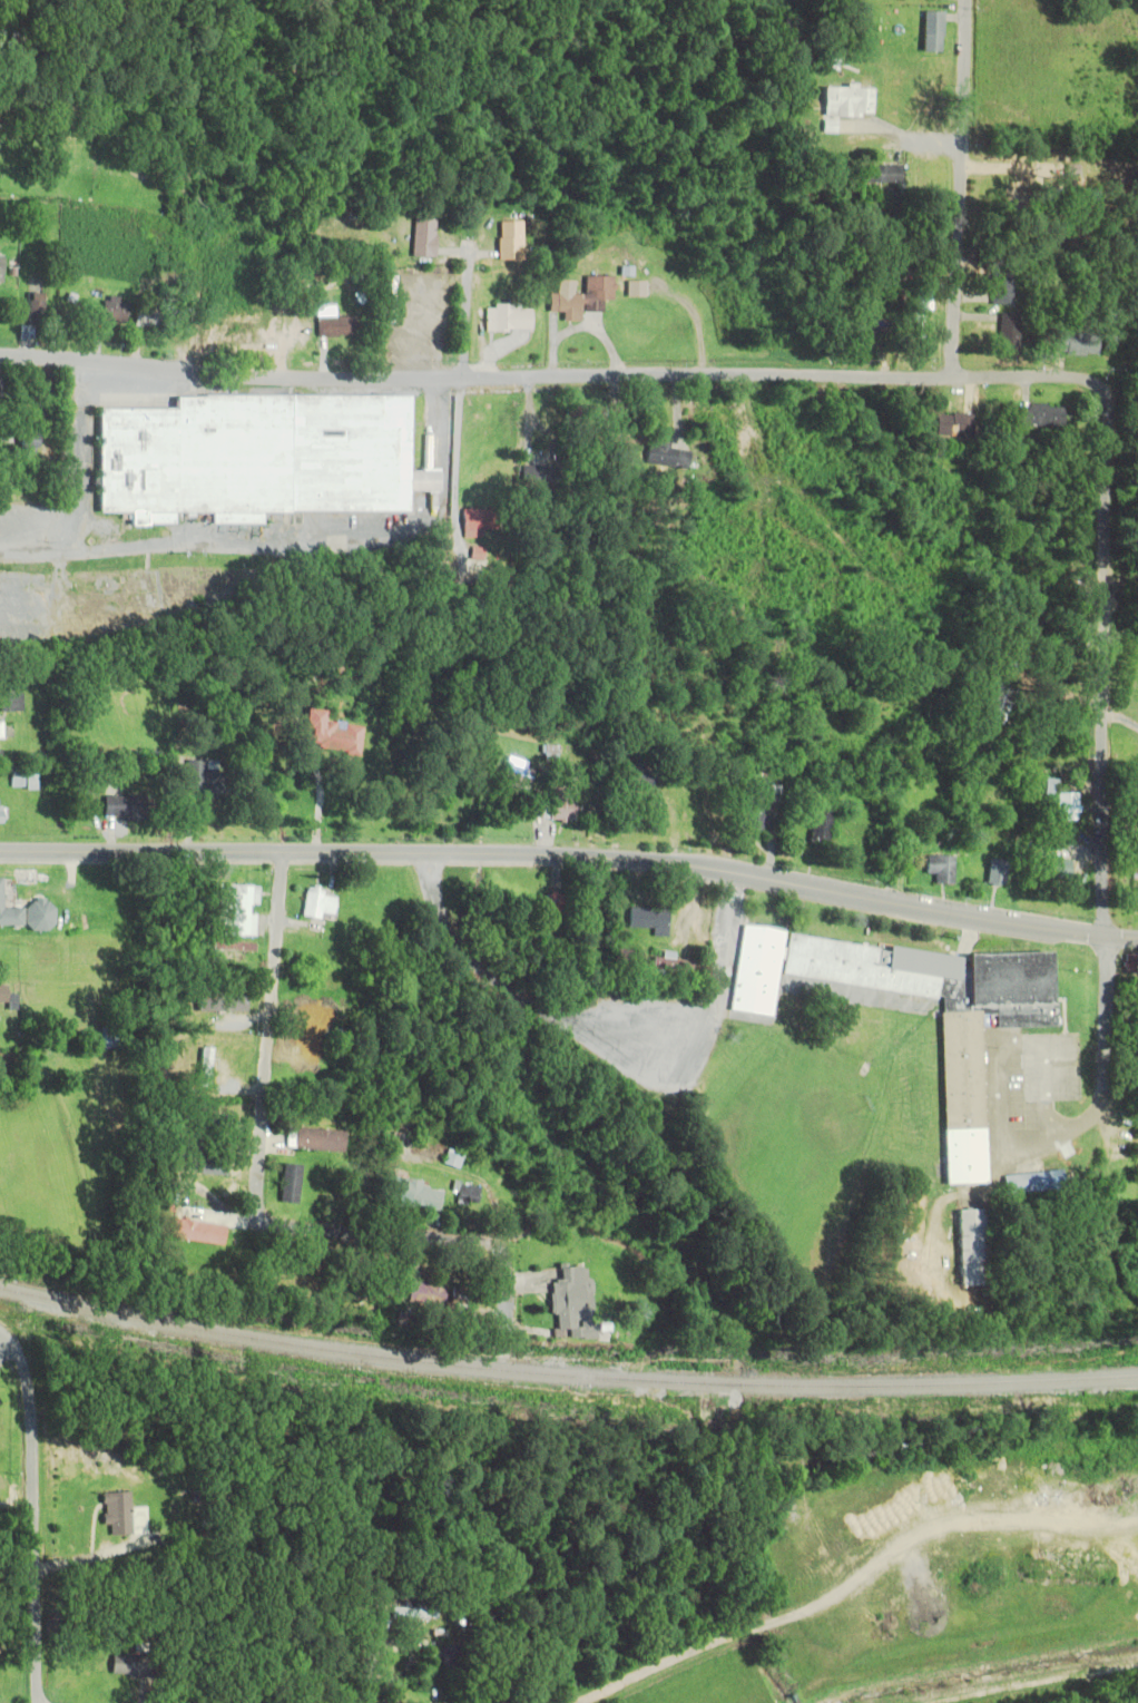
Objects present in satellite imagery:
building: (933, 32)
building: (14, 41)
building: (850, 101)
building: (881, 174)
road: (967, 187)
building: (423, 237)
building: (506, 241)
building: (0, 270)
building: (1001, 287)
building: (579, 297)
building: (32, 306)
road: (464, 310)
building: (920, 310)
building: (109, 311)
building: (507, 319)
building: (147, 320)
building: (334, 327)
building: (871, 330)
building: (1008, 333)
building: (233, 336)
building: (1077, 343)
road: (555, 379)
building: (1039, 415)
building: (953, 425)
building: (740, 440)
building: (24, 442)
building: (259, 457)
building: (534, 476)
road: (80, 498)
building: (478, 522)
road: (186, 549)
building: (9, 703)
building: (328, 734)
building: (551, 753)
road: (1105, 769)
building: (517, 773)
building: (640, 774)
building: (19, 779)
building: (198, 779)
building: (560, 804)
building: (755, 805)
building: (1067, 805)
building: (120, 808)
building: (822, 824)
road: (571, 853)
building: (941, 869)
building: (1053, 869)
building: (997, 873)
building: (316, 904)
building: (556, 904)
building: (233, 910)
building: (9, 916)
building: (646, 919)
building: (620, 956)
building: (667, 962)
building: (755, 971)
building: (1, 994)
building: (219, 1005)
building: (944, 1018)
road: (598, 1040)
building: (205, 1068)
road: (1002, 1075)
building: (209, 1123)
building: (316, 1139)
building: (452, 1158)
building: (206, 1164)
road: (269, 1174)
building: (1031, 1182)
building: (287, 1183)
building: (464, 1193)
building: (411, 1195)
building: (195, 1231)
building: (971, 1246)
road: (497, 1285)
building: (359, 1286)
building: (422, 1294)
building: (566, 1301)
building: (455, 1304)
road: (10, 1347)
railway: (565, 1374)
building: (121, 1515)
road: (35, 1529)
building: (412, 1613)
building: (450, 1660)
road: (371, 1663)
building: (387, 1664)
building: (128, 1665)

